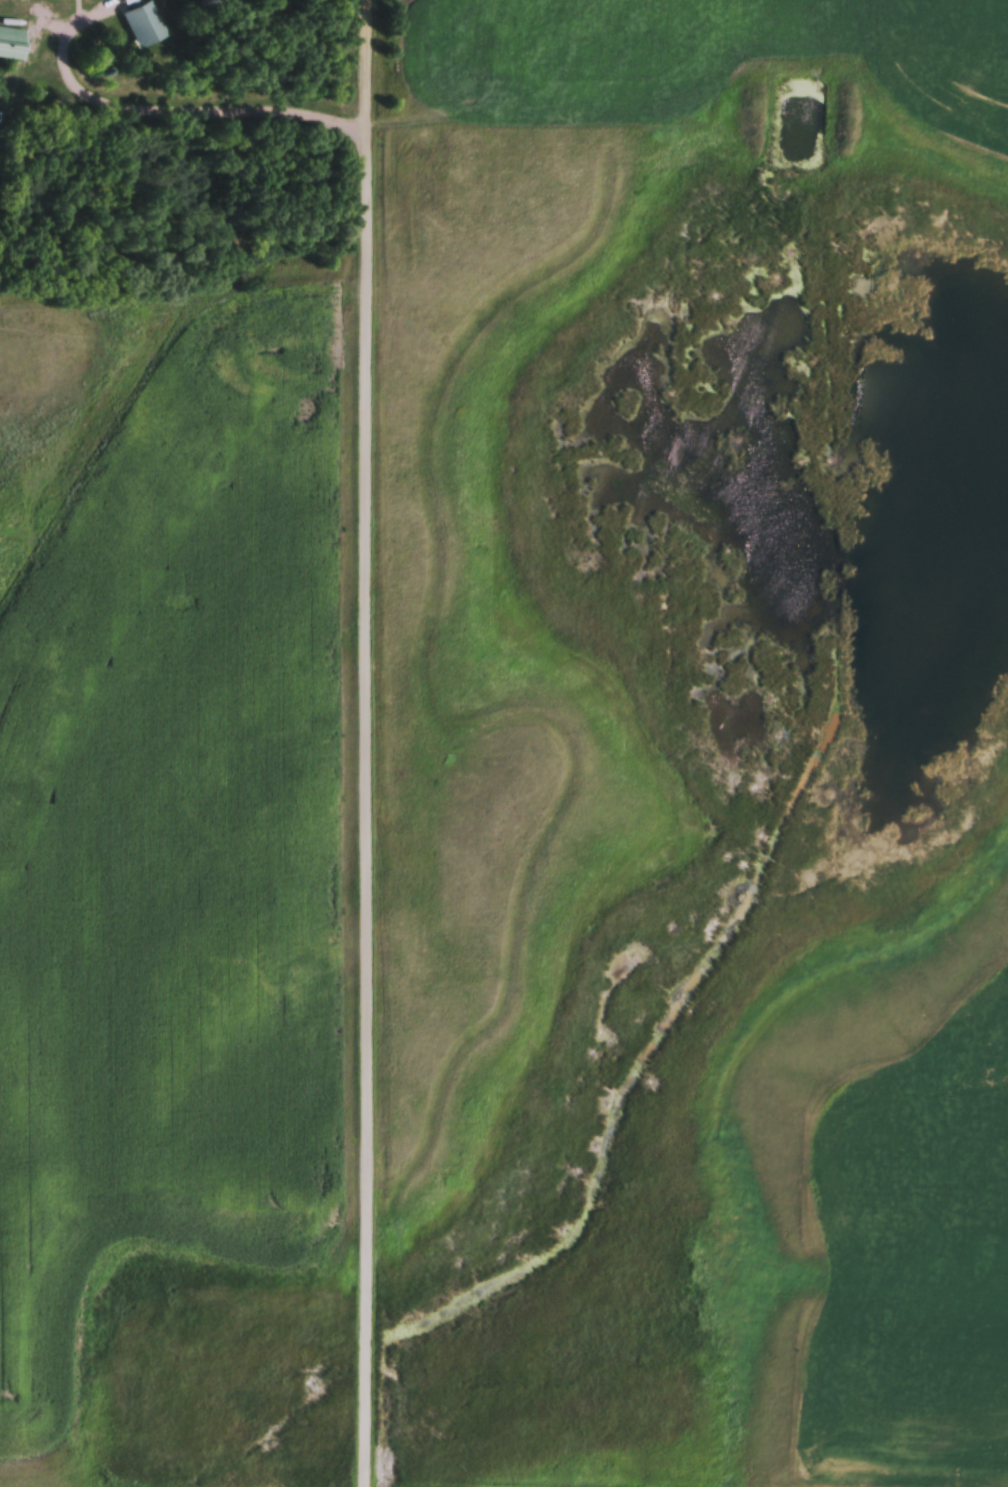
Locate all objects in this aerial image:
building: (142, 18)
building: (10, 45)
road: (168, 103)
river: (801, 128)
river: (781, 539)
road: (368, 743)

